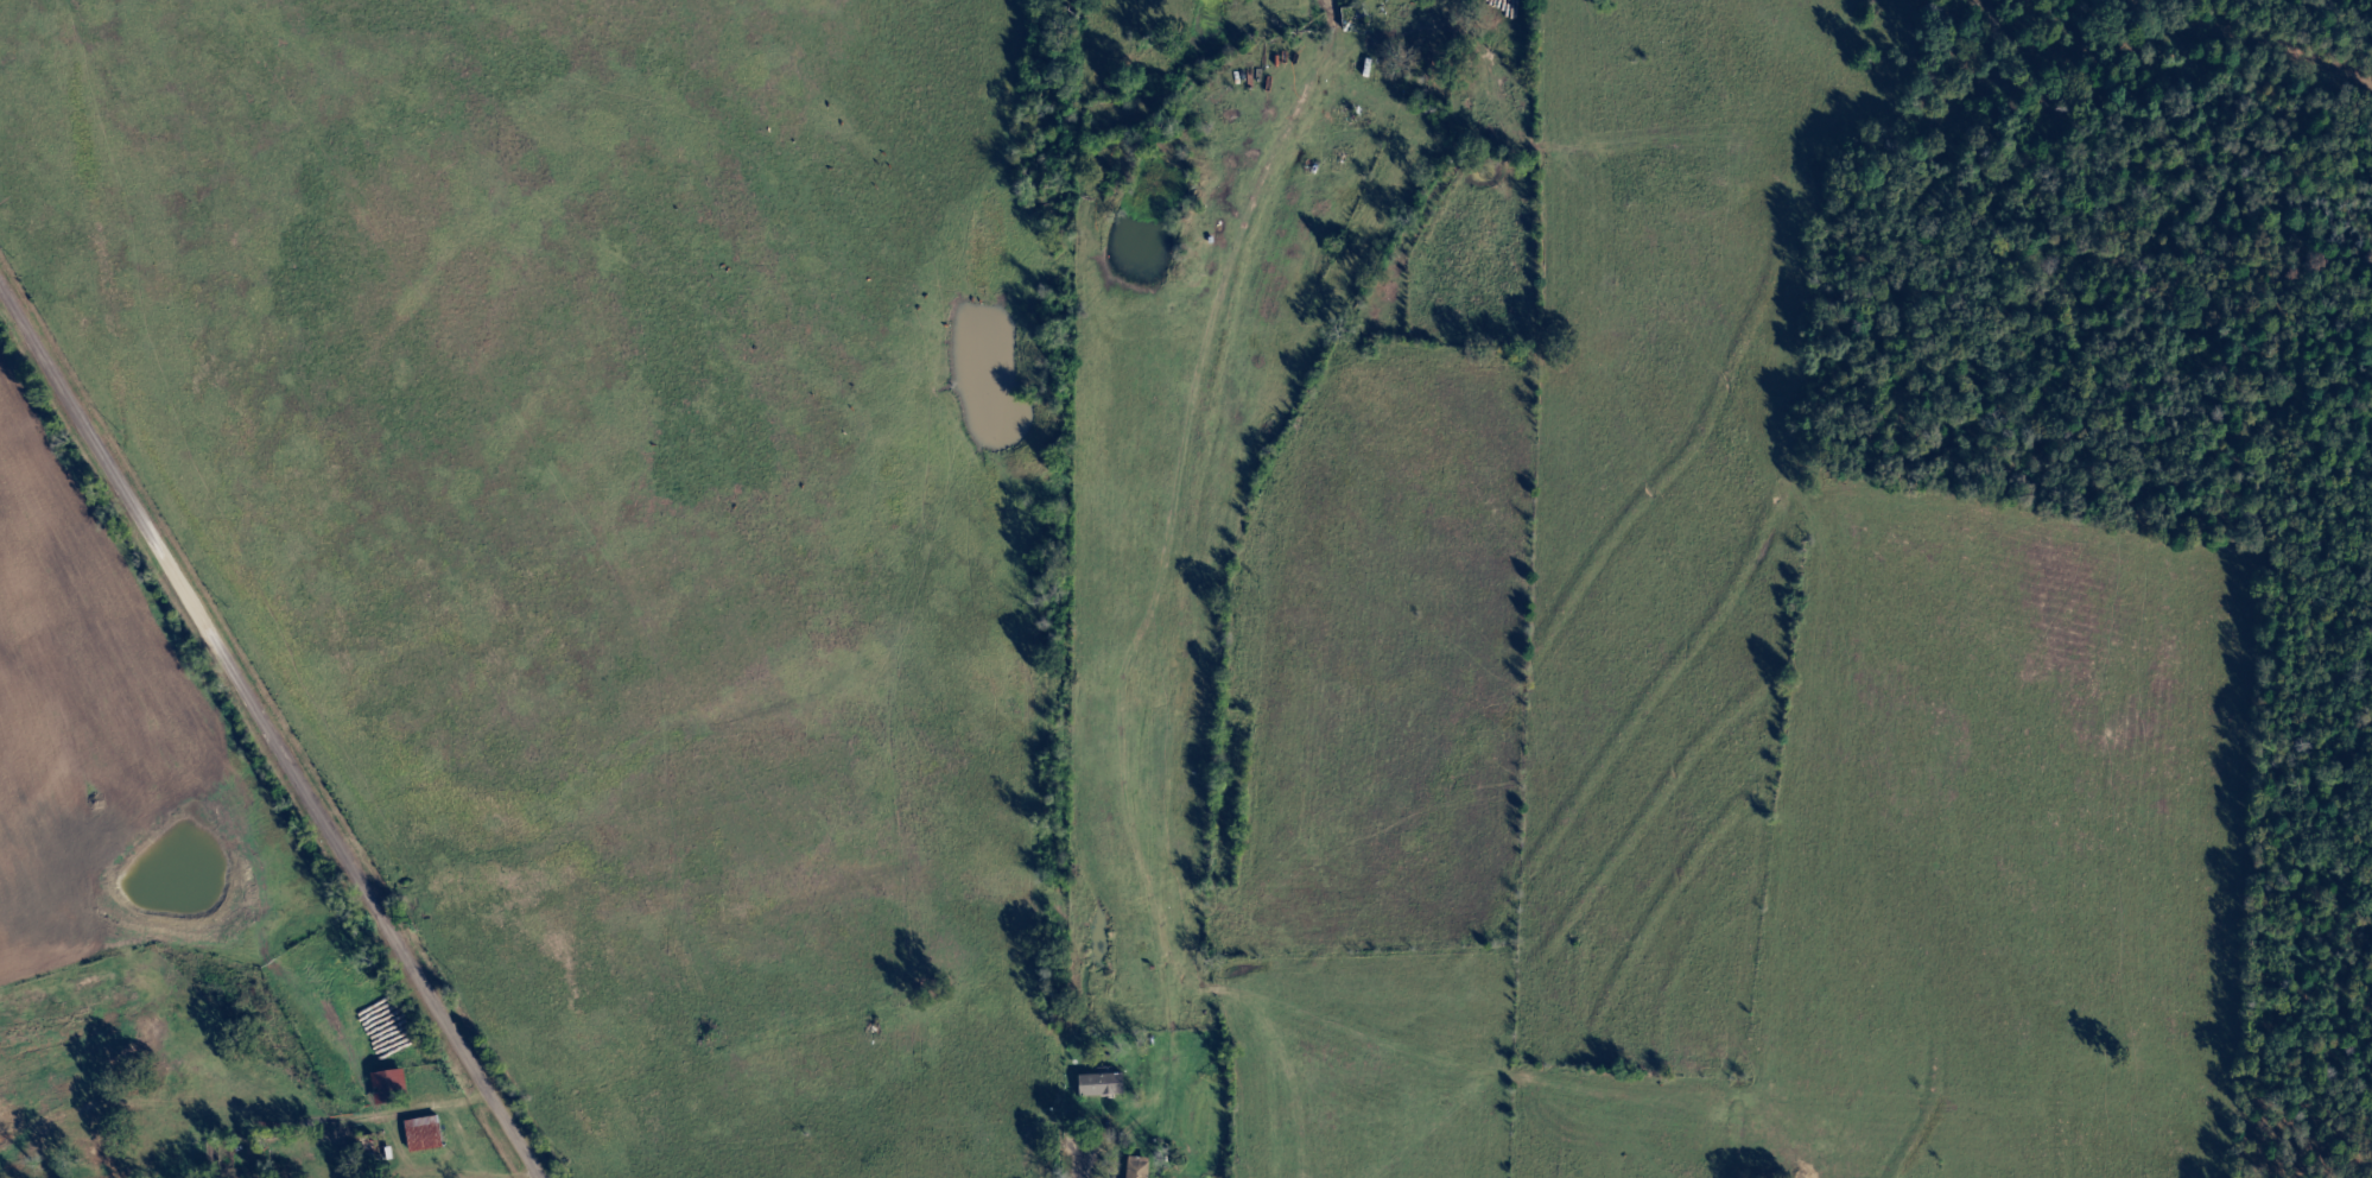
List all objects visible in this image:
road: (1193, 443)
road: (252, 703)
building: (1103, 1085)
building: (391, 1088)
building: (425, 1135)
road: (521, 1148)
building: (1139, 1168)

